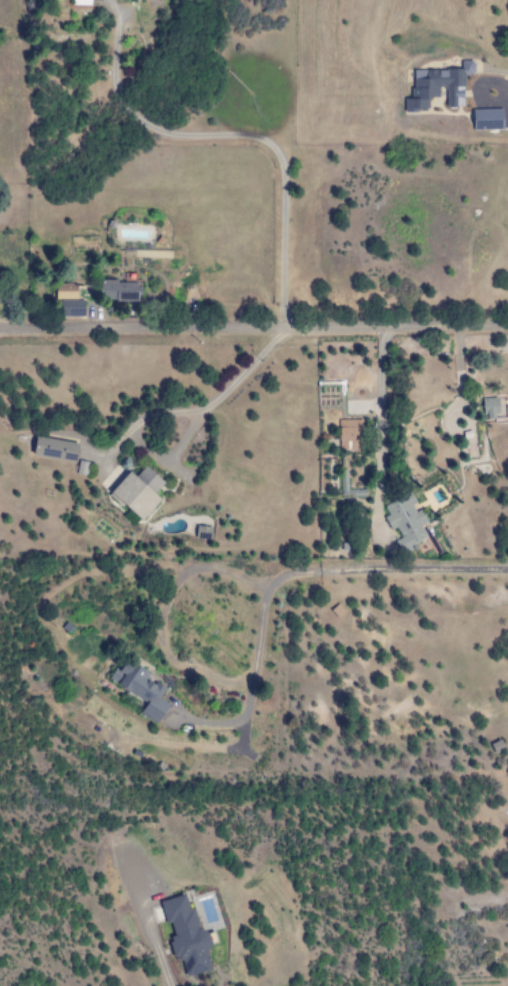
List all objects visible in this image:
building: (436, 87)
building: (486, 119)
building: (117, 291)
building: (64, 292)
building: (70, 308)
road: (254, 323)
building: (488, 408)
building: (348, 435)
building: (54, 449)
building: (137, 492)
building: (404, 522)
building: (202, 533)
building: (140, 690)
building: (184, 936)

